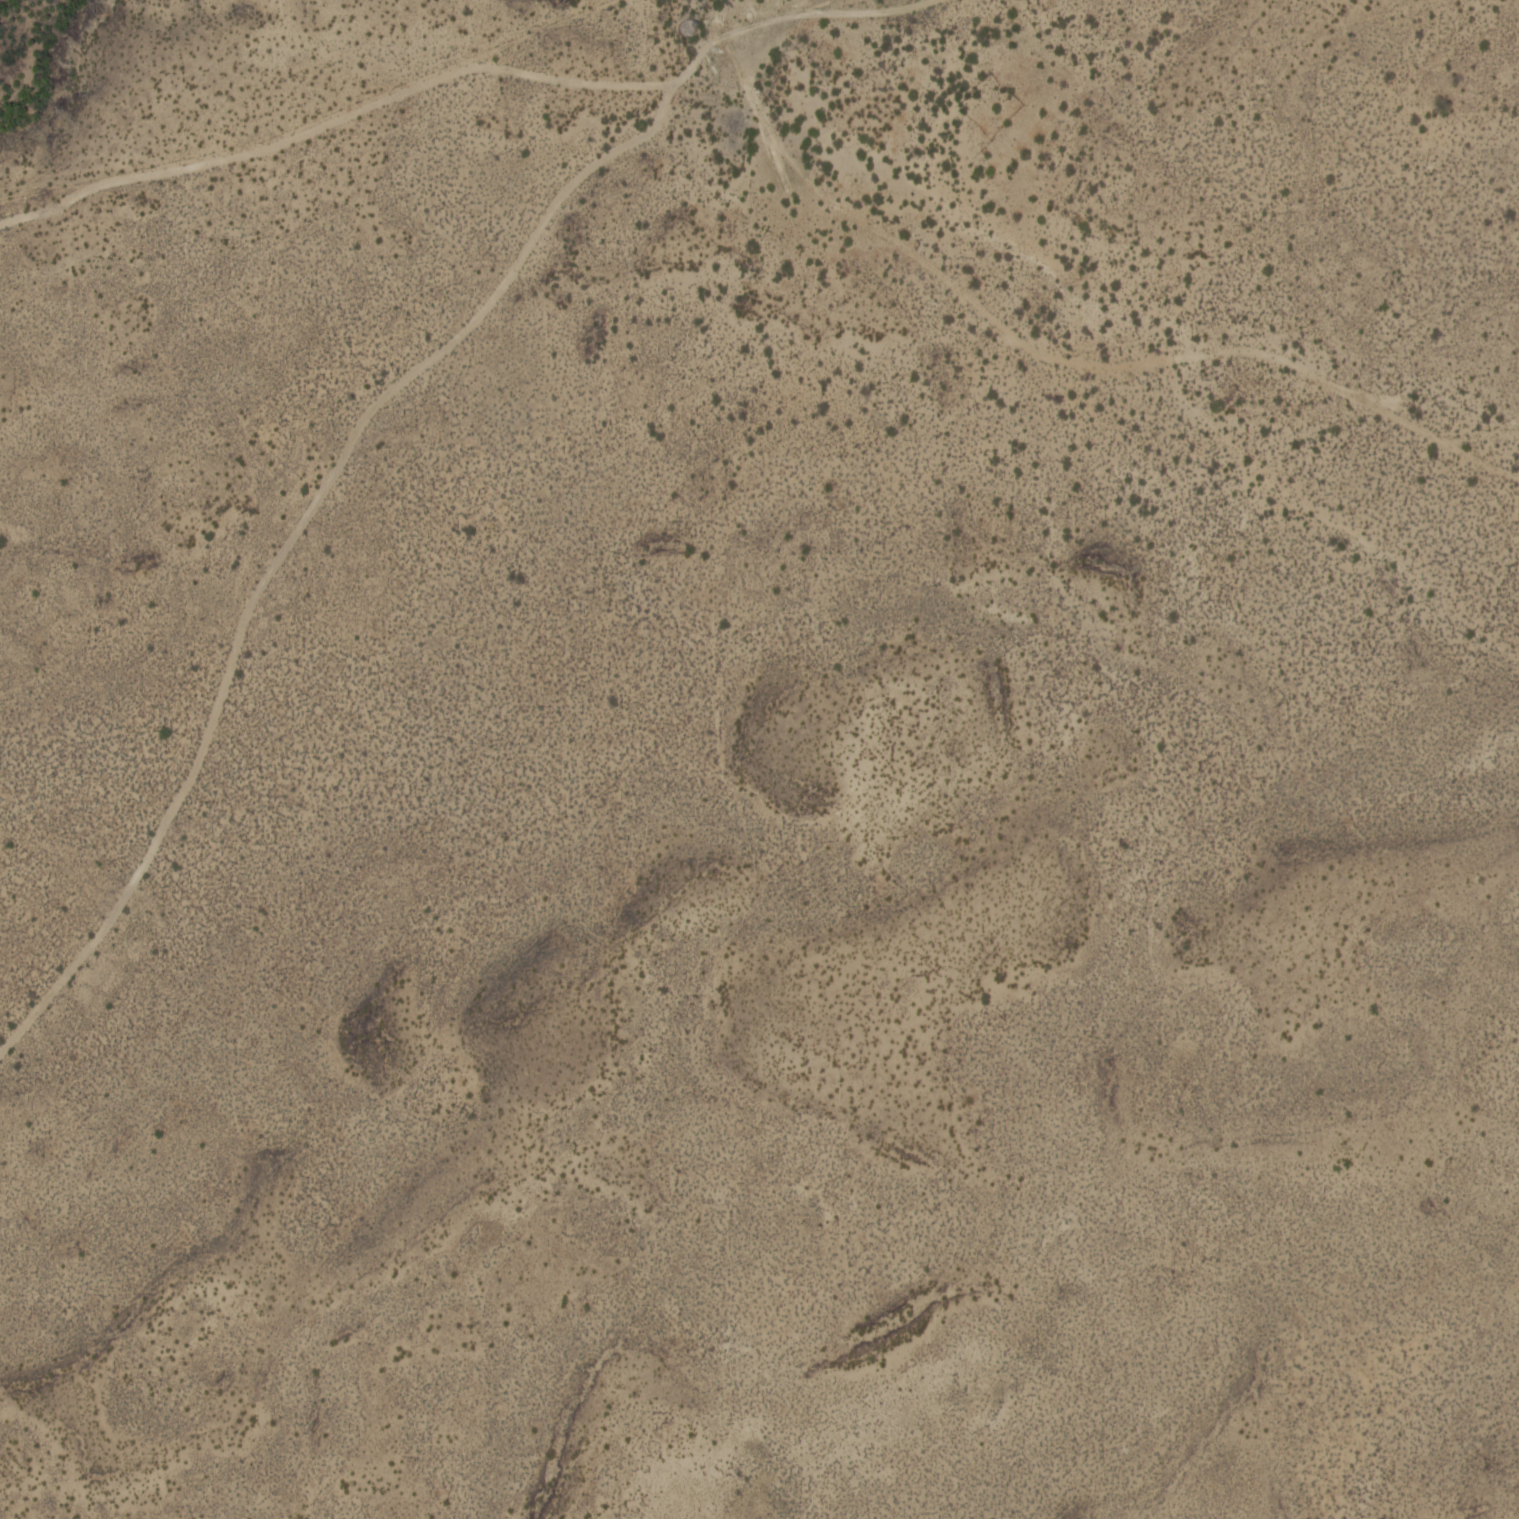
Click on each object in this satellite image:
road: (331, 451)

